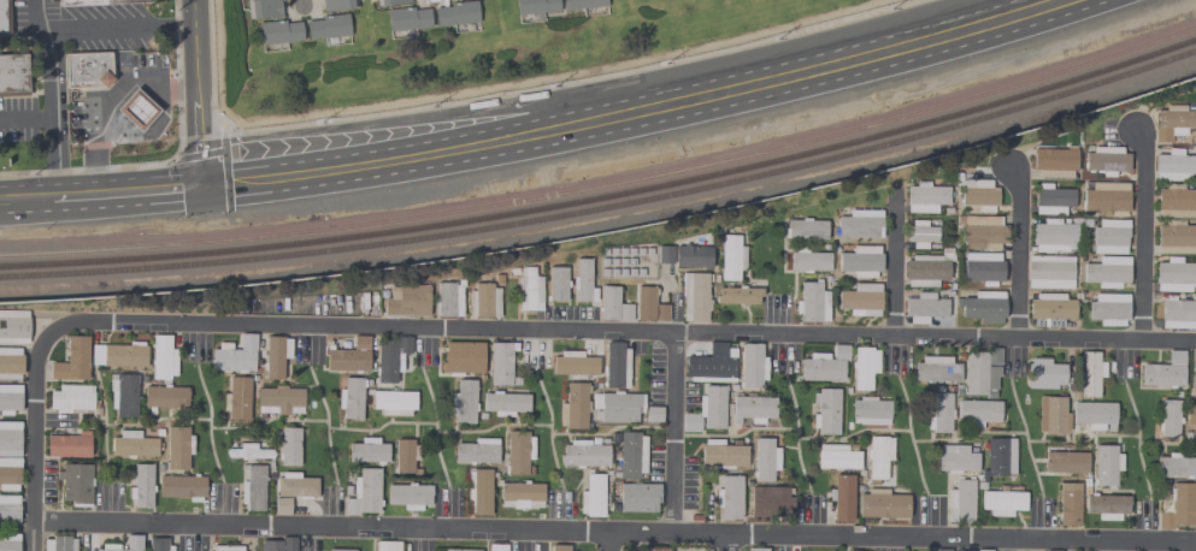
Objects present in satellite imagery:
building: (452, 0)
building: (98, 1)
road: (301, 2)
building: (390, 2)
building: (337, 4)
building: (582, 4)
building: (536, 6)
building: (261, 8)
building: (455, 13)
building: (1, 17)
building: (407, 18)
road: (120, 26)
building: (328, 26)
building: (278, 31)
road: (193, 42)
building: (87, 69)
building: (12, 75)
road: (508, 93)
road: (53, 94)
building: (136, 109)
road: (643, 114)
road: (28, 115)
building: (1172, 120)
road: (399, 123)
road: (199, 132)
road: (199, 156)
building: (1106, 160)
building: (1054, 162)
building: (1174, 165)
road: (123, 170)
road: (225, 170)
traffic signals: (202, 183)
railway: (606, 186)
road: (101, 189)
building: (978, 194)
railway: (606, 197)
building: (925, 197)
building: (1106, 197)
building: (1051, 199)
building: (1176, 202)
railway: (606, 208)
building: (859, 224)
building: (805, 229)
building: (980, 231)
building: (920, 233)
building: (1053, 236)
building: (1109, 236)
road: (1142, 236)
building: (1176, 237)
road: (1019, 253)
building: (665, 255)
building: (693, 256)
building: (731, 257)
building: (808, 260)
building: (860, 261)
building: (982, 268)
building: (925, 269)
road: (895, 271)
building: (1107, 271)
building: (1049, 272)
building: (1174, 275)
building: (582, 280)
building: (556, 283)
building: (529, 290)
building: (737, 295)
building: (694, 296)
building: (448, 300)
building: (484, 300)
building: (860, 300)
building: (406, 301)
building: (811, 302)
building: (612, 304)
building: (648, 304)
building: (924, 307)
building: (982, 307)
building: (1049, 309)
building: (1108, 309)
building: (1177, 313)
building: (13, 326)
road: (617, 336)
building: (360, 342)
building: (119, 355)
building: (234, 355)
building: (275, 355)
building: (992, 355)
building: (163, 357)
building: (390, 357)
building: (461, 357)
building: (72, 360)
building: (346, 360)
building: (1194, 360)
building: (10, 363)
building: (501, 363)
building: (573, 363)
building: (711, 363)
building: (824, 365)
building: (615, 366)
building: (752, 366)
building: (864, 366)
building: (936, 369)
building: (1163, 371)
building: (978, 373)
building: (1090, 373)
building: (1043, 374)
building: (1195, 377)
building: (1194, 385)
building: (123, 393)
building: (990, 393)
building: (70, 397)
building: (350, 397)
building: (10, 398)
building: (165, 398)
building: (237, 398)
building: (279, 399)
building: (463, 401)
building: (393, 402)
building: (505, 403)
building: (575, 405)
building: (617, 405)
building: (712, 405)
building: (753, 408)
building: (870, 410)
building: (826, 411)
building: (977, 411)
building: (939, 413)
building: (653, 414)
building: (1051, 414)
building: (1094, 415)
building: (1190, 416)
building: (1168, 419)
building: (690, 422)
road: (673, 434)
building: (10, 438)
road: (35, 438)
building: (67, 444)
building: (134, 445)
building: (289, 446)
building: (177, 448)
building: (476, 450)
building: (249, 451)
building: (367, 451)
building: (518, 452)
building: (583, 454)
building: (721, 454)
building: (631, 455)
building: (878, 455)
building: (405, 456)
building: (836, 456)
building: (1000, 457)
building: (955, 458)
building: (765, 460)
building: (1065, 462)
building: (1106, 464)
building: (1176, 464)
building: (8, 473)
building: (75, 484)
building: (141, 486)
building: (182, 486)
building: (295, 486)
building: (252, 487)
building: (478, 491)
building: (364, 492)
building: (408, 494)
building: (520, 494)
building: (591, 496)
building: (638, 497)
building: (729, 497)
building: (841, 497)
building: (768, 500)
building: (1002, 502)
building: (961, 503)
building: (1068, 503)
building: (882, 504)
building: (282, 505)
building: (1106, 505)
building: (1177, 506)
building: (8, 508)
road: (614, 533)
building: (132, 539)
building: (8, 541)
road: (609, 541)
building: (59, 543)
road: (725, 543)
building: (158, 544)
building: (288, 544)
building: (270, 545)
building: (387, 545)
building: (226, 547)
building: (496, 547)
building: (559, 547)
building: (756, 549)
building: (341, 550)
building: (461, 550)
building: (848, 550)
building: (942, 550)
building: (984, 550)

